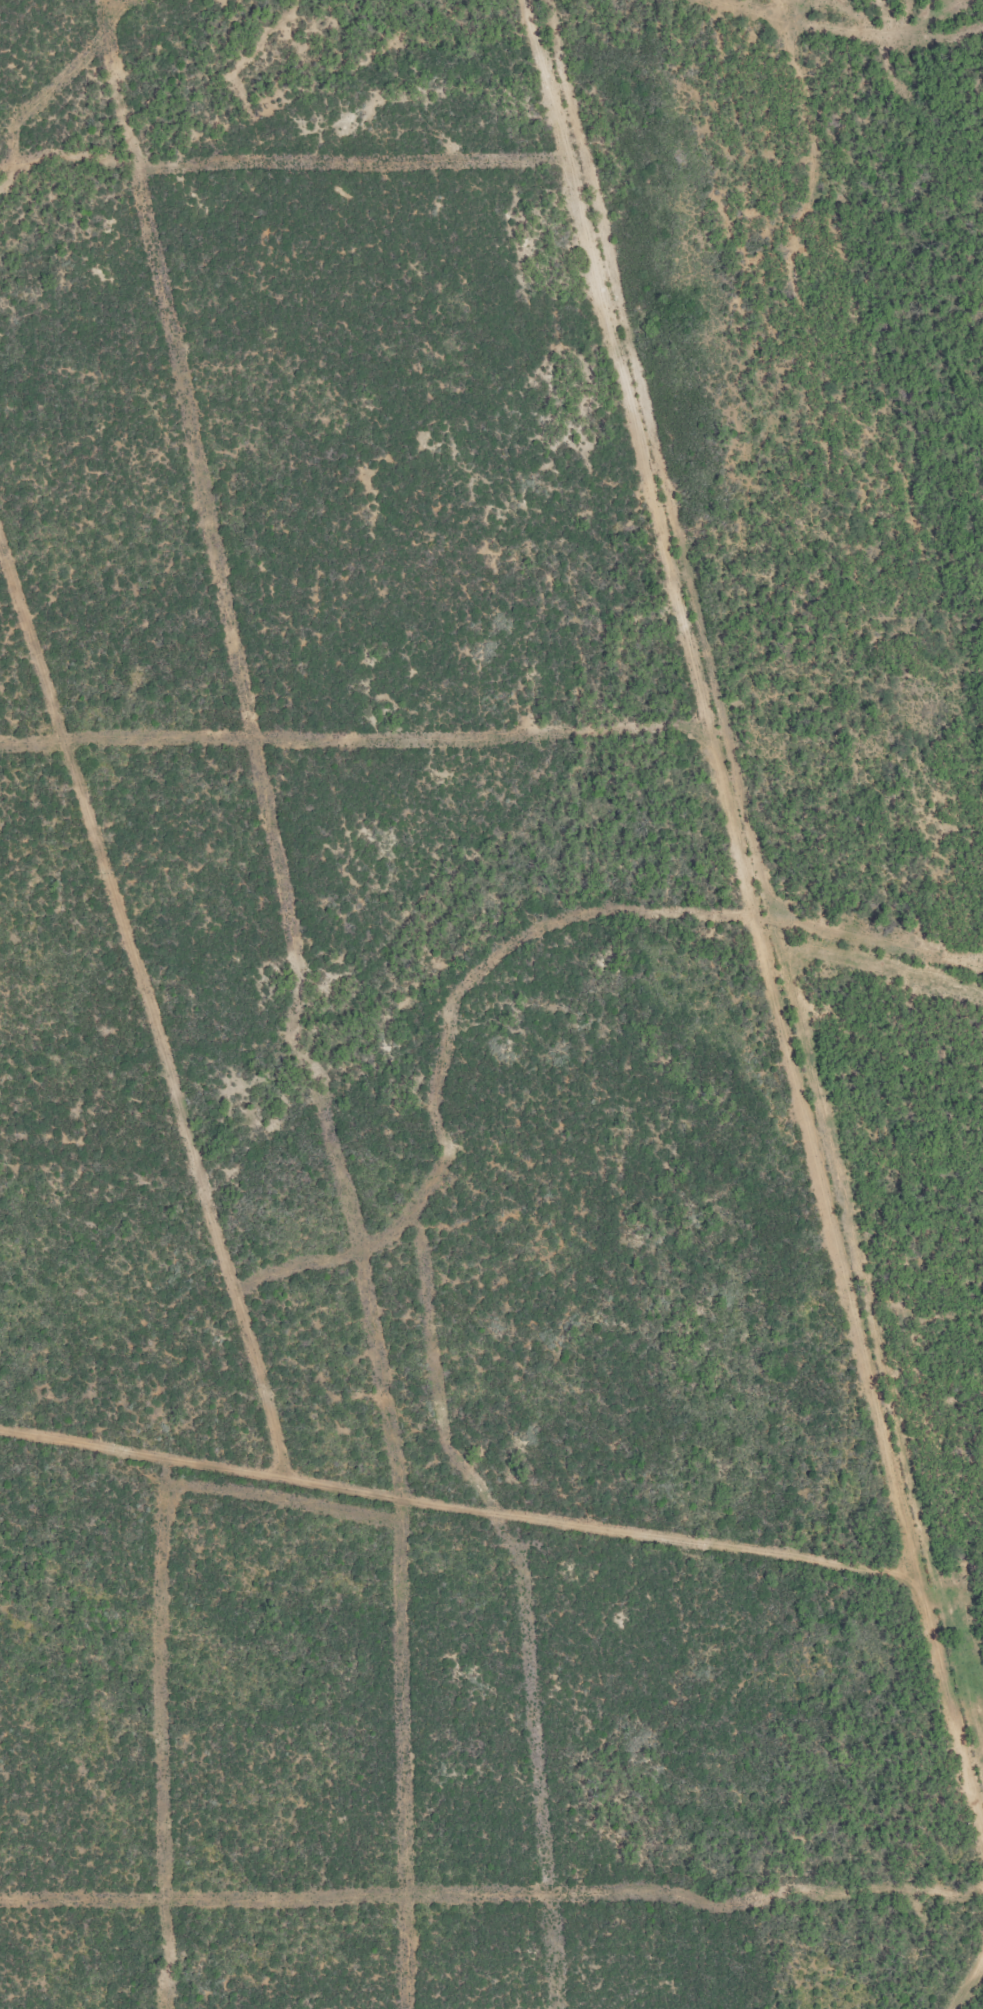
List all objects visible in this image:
road: (769, 940)

